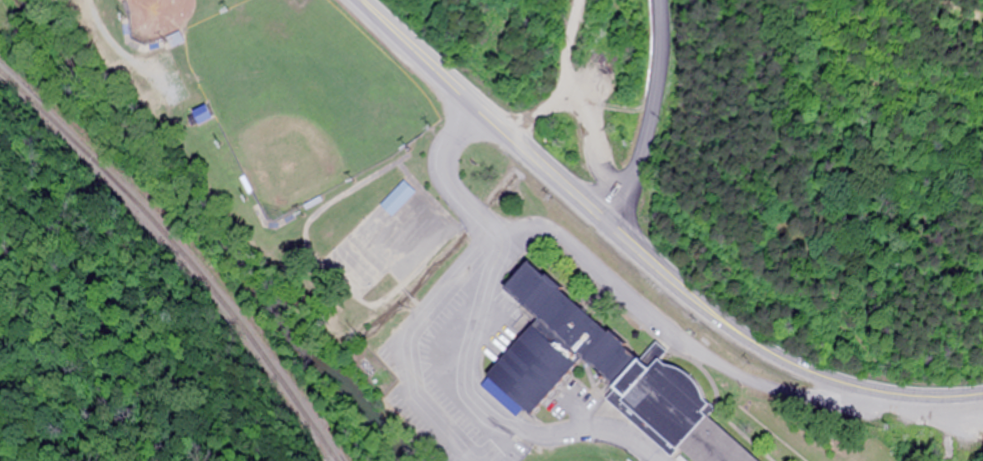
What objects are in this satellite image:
park: (170, 15)
park: (303, 96)
building: (208, 114)
road: (647, 117)
building: (401, 198)
river: (215, 231)
railway: (177, 253)
road: (643, 256)
road: (472, 333)
building: (612, 371)
park: (572, 460)

